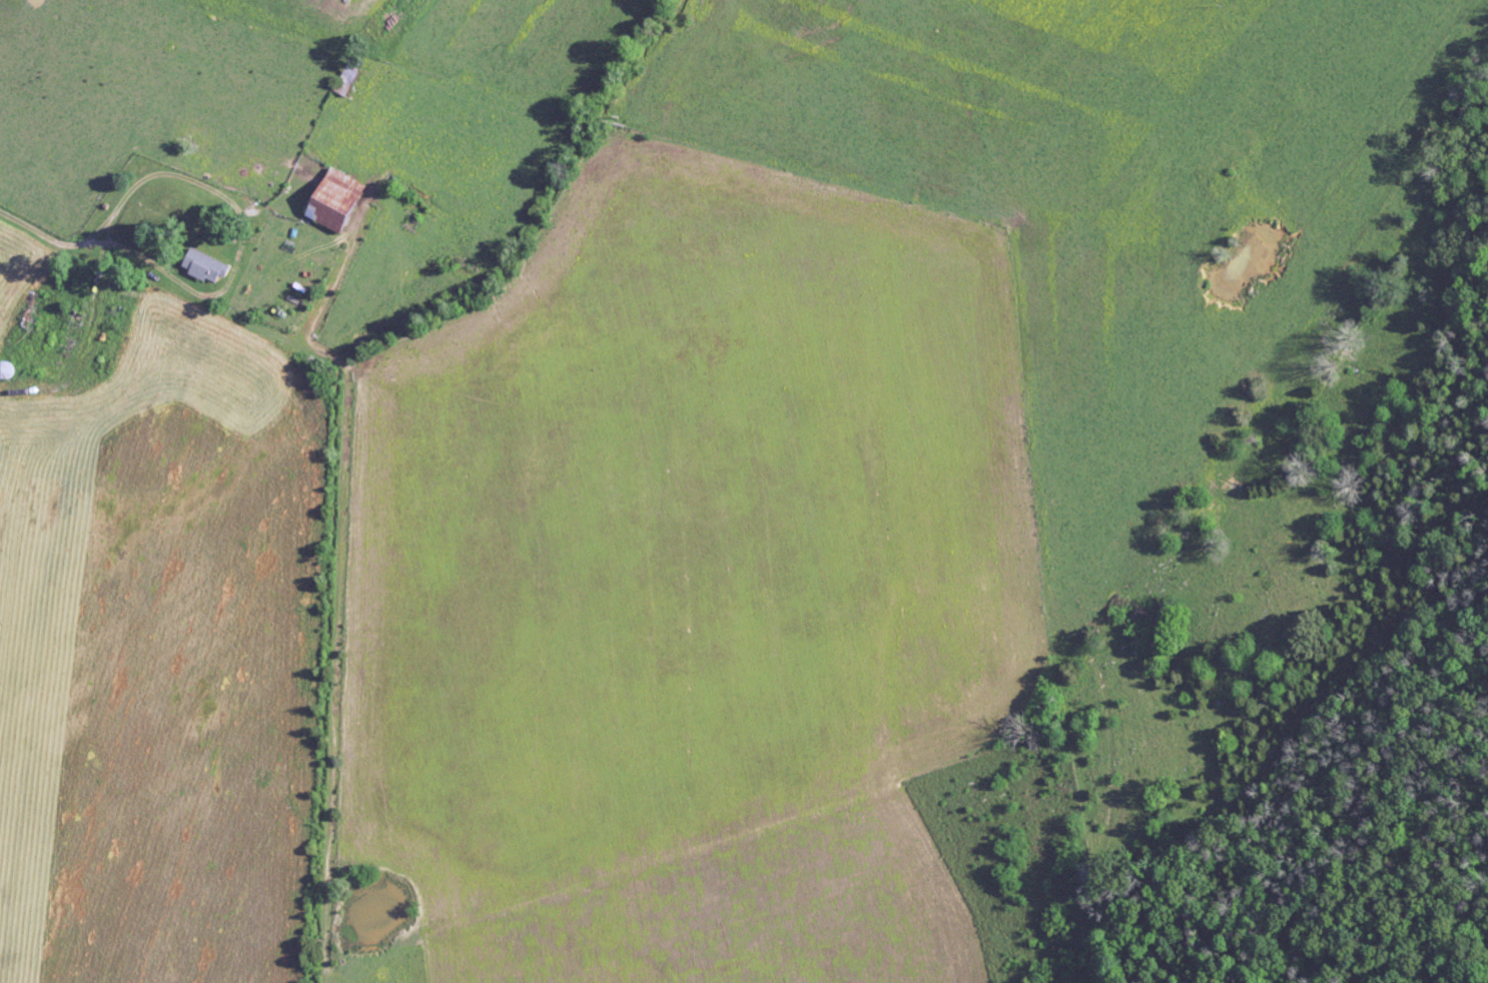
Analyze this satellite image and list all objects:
building: (338, 202)
building: (208, 268)
road: (111, 322)

